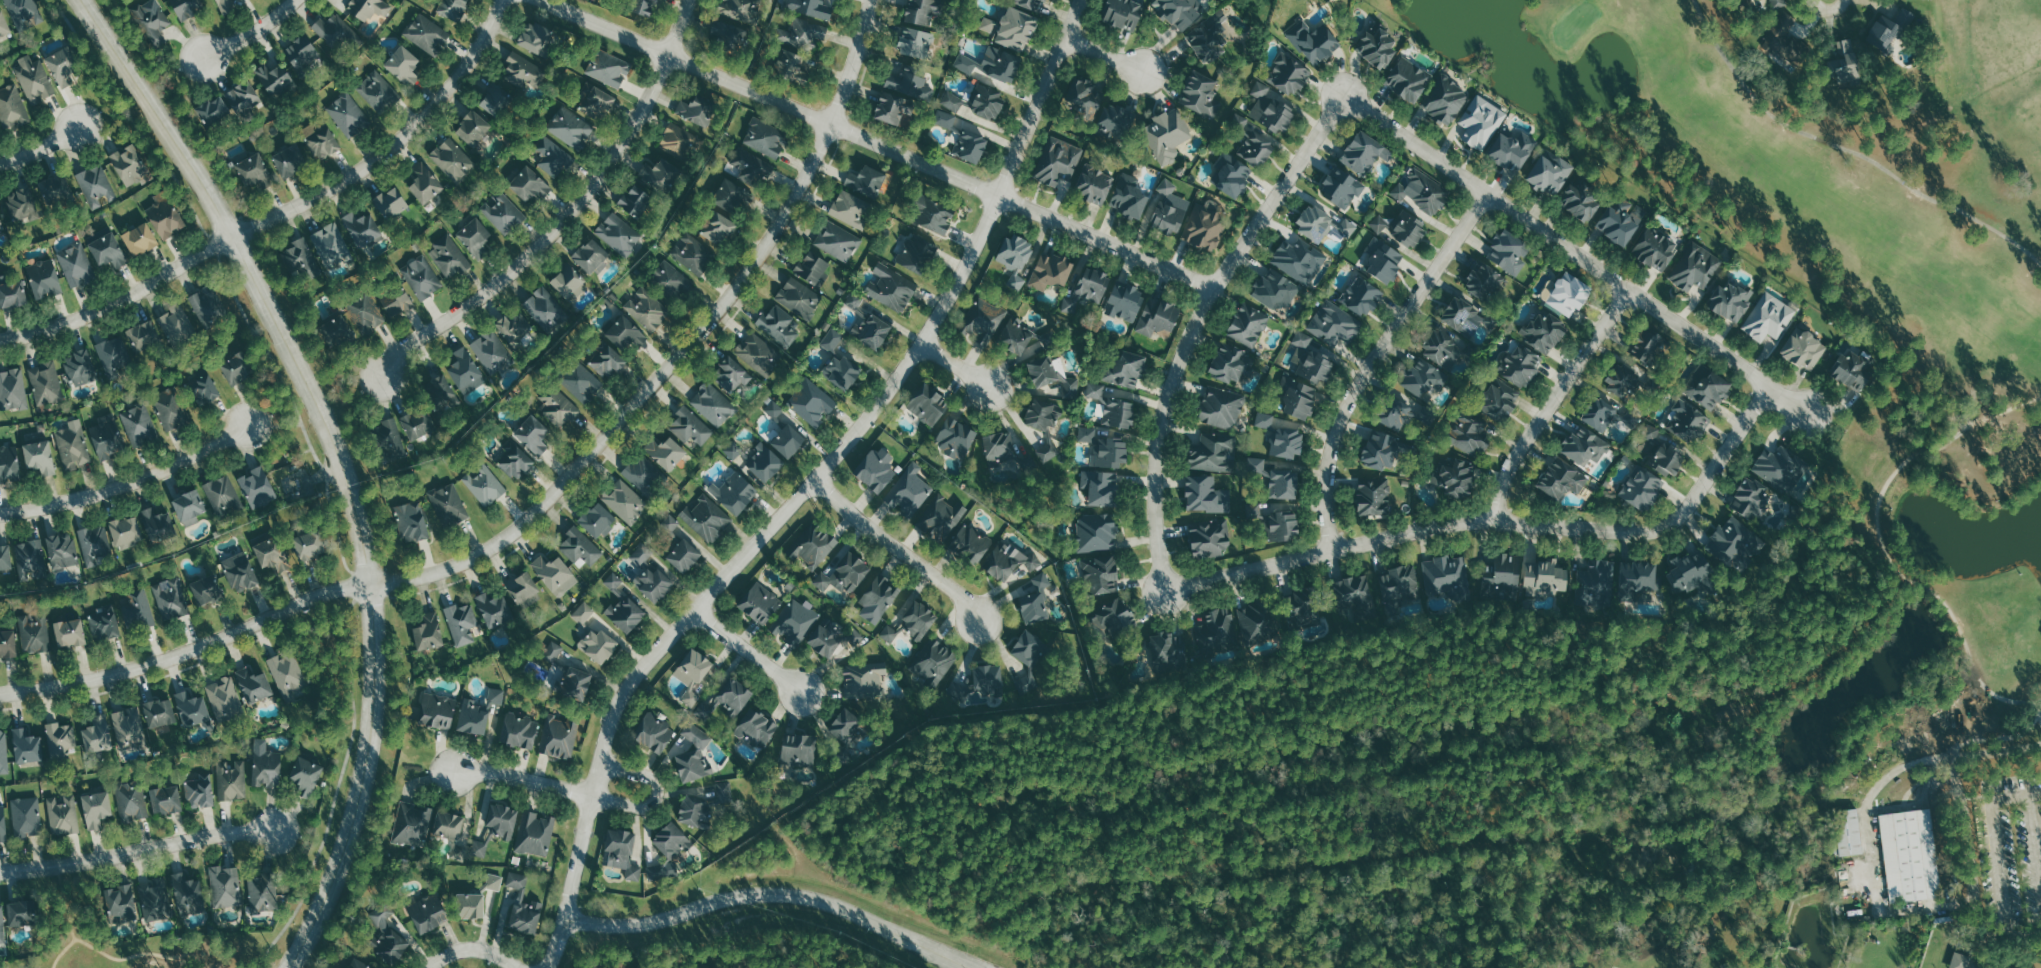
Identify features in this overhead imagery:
building: (1777, 3)
building: (1031, 4)
building: (225, 6)
building: (186, 7)
building: (369, 7)
building: (642, 7)
building: (451, 8)
building: (810, 8)
building: (738, 9)
building: (25, 10)
road: (1829, 10)
building: (921, 11)
building: (1179, 11)
building: (1123, 13)
building: (152, 20)
building: (988, 24)
building: (3, 25)
road: (680, 28)
building: (1016, 29)
building: (336, 31)
road: (254, 33)
building: (427, 34)
building: (728, 35)
building: (1884, 35)
building: (1208, 37)
building: (533, 39)
building: (1313, 41)
building: (1784, 41)
building: (915, 43)
building: (796, 48)
building: (1377, 48)
building: (301, 52)
road: (1108, 53)
building: (1844, 62)
building: (403, 64)
building: (965, 64)
building: (1003, 66)
building: (60, 67)
building: (608, 67)
building: (523, 72)
building: (1289, 74)
building: (34, 78)
building: (274, 79)
building: (1407, 80)
building: (910, 85)
building: (377, 91)
building: (242, 96)
building: (1201, 96)
building: (1088, 98)
building: (497, 99)
building: (1445, 99)
building: (597, 101)
building: (952, 101)
building: (987, 101)
building: (12, 107)
building: (890, 108)
building: (1270, 109)
building: (212, 110)
building: (695, 110)
building: (348, 114)
building: (945, 119)
building: (1117, 121)
building: (1239, 121)
building: (1481, 122)
building: (472, 128)
building: (571, 128)
building: (1167, 135)
building: (765, 138)
building: (320, 139)
building: (678, 140)
road: (879, 145)
road: (40, 146)
building: (970, 146)
building: (1256, 149)
building: (1510, 150)
building: (1364, 153)
building: (552, 156)
building: (452, 159)
building: (289, 160)
building: (1060, 161)
building: (128, 166)
building: (751, 167)
building: (253, 172)
building: (659, 173)
building: (1550, 174)
building: (1233, 178)
building: (866, 181)
building: (424, 183)
building: (529, 184)
building: (1093, 184)
building: (95, 185)
building: (1342, 188)
building: (56, 191)
building: (1422, 191)
building: (731, 197)
building: (1128, 197)
building: (634, 201)
building: (1580, 201)
building: (390, 203)
building: (22, 205)
building: (851, 209)
building: (1168, 209)
road: (284, 211)
building: (502, 212)
building: (931, 214)
building: (164, 216)
building: (1619, 221)
building: (1313, 223)
building: (1379, 224)
building: (1205, 225)
building: (718, 227)
building: (362, 229)
building: (1409, 229)
building: (618, 233)
road: (549, 236)
building: (475, 237)
building: (139, 239)
building: (837, 241)
building: (332, 244)
building: (1655, 249)
building: (107, 251)
building: (1509, 252)
building: (693, 253)
building: (917, 254)
building: (450, 256)
building: (591, 256)
building: (1015, 258)
building: (302, 260)
building: (1298, 260)
building: (76, 264)
building: (1695, 267)
building: (812, 269)
building: (1050, 271)
road: (1224, 276)
building: (422, 277)
road: (1617, 278)
building: (43, 279)
building: (671, 280)
building: (568, 282)
building: (1483, 282)
building: (891, 288)
building: (1276, 290)
building: (1086, 291)
building: (12, 294)
building: (1567, 295)
building: (1361, 297)
building: (799, 298)
building: (1730, 300)
building: (396, 302)
building: (1124, 302)
building: (208, 306)
building: (545, 307)
building: (647, 308)
building: (365, 312)
building: (1157, 317)
building: (1462, 318)
building: (1771, 319)
building: (985, 322)
building: (176, 324)
building: (1334, 324)
building: (778, 325)
building: (867, 325)
building: (1248, 325)
building: (515, 326)
building: (337, 331)
building: (625, 334)
building: (1015, 335)
building: (142, 336)
building: (1302, 339)
building: (1645, 347)
building: (1441, 349)
building: (1532, 349)
building: (1804, 349)
building: (492, 352)
building: (759, 354)
building: (113, 355)
road: (1375, 359)
building: (606, 360)
building: (839, 363)
building: (1229, 363)
road: (956, 365)
building: (1312, 366)
building: (236, 368)
building: (1125, 370)
building: (80, 371)
building: (465, 371)
building: (1854, 371)
building: (731, 374)
building: (1053, 377)
building: (1422, 378)
building: (1622, 381)
building: (45, 382)
building: (581, 382)
building: (1284, 384)
building: (1707, 387)
building: (202, 388)
building: (12, 390)
building: (441, 393)
road: (1553, 397)
building: (1498, 400)
building: (812, 402)
building: (1299, 402)
building: (713, 404)
building: (928, 404)
building: (558, 407)
building: (1221, 407)
building: (1112, 408)
building: (170, 409)
building: (774, 409)
building: (1042, 414)
building: (1400, 415)
building: (1600, 415)
building: (1265, 420)
building: (416, 423)
building: (1688, 423)
building: (139, 425)
building: (690, 427)
building: (1650, 432)
building: (1469, 433)
building: (1087, 434)
building: (532, 435)
building: (955, 438)
building: (107, 439)
building: (787, 441)
building: (1288, 443)
building: (391, 444)
building: (73, 445)
building: (998, 446)
building: (1048, 448)
building: (731, 450)
building: (1379, 450)
building: (664, 451)
building: (1110, 453)
building: (1213, 453)
building: (39, 457)
building: (1665, 459)
road: (339, 461)
building: (515, 461)
building: (764, 463)
building: (9, 464)
building: (1258, 466)
building: (1779, 467)
building: (876, 469)
building: (1007, 470)
building: (641, 472)
building: (1453, 479)
building: (1562, 479)
road: (127, 480)
building: (484, 485)
building: (1283, 485)
road: (807, 486)
building: (257, 488)
building: (1100, 488)
building: (1642, 489)
building: (909, 492)
building: (733, 493)
building: (222, 494)
road: (552, 494)
building: (1205, 495)
building: (1373, 498)
building: (1749, 498)
building: (625, 501)
building: (449, 504)
building: (188, 507)
building: (1254, 511)
building: (707, 518)
road: (1512, 518)
building: (596, 520)
building: (411, 522)
building: (157, 524)
building: (670, 524)
building: (1282, 526)
building: (937, 529)
building: (125, 532)
building: (1096, 532)
building: (1208, 538)
building: (1729, 541)
building: (94, 544)
building: (308, 546)
building: (580, 547)
building: (814, 548)
road: (896, 549)
building: (61, 550)
building: (271, 555)
building: (641, 555)
building: (683, 556)
building: (4, 558)
building: (30, 559)
building: (1009, 561)
building: (1690, 571)
building: (240, 572)
building: (1100, 573)
building: (552, 574)
building: (1502, 574)
building: (844, 575)
building: (1448, 575)
building: (1638, 576)
building: (1545, 579)
building: (1598, 581)
building: (653, 584)
building: (1400, 586)
building: (206, 590)
building: (524, 590)
building: (1352, 592)
building: (171, 599)
building: (878, 599)
building: (1035, 601)
building: (760, 603)
building: (622, 607)
building: (137, 609)
building: (493, 609)
building: (583, 613)
building: (1302, 613)
building: (1110, 619)
building: (919, 621)
building: (795, 622)
building: (1260, 622)
building: (462, 623)
building: (103, 624)
building: (1218, 630)
building: (427, 632)
building: (34, 633)
building: (69, 633)
building: (889, 634)
building: (833, 638)
building: (7, 644)
road: (620, 645)
building: (598, 646)
building: (1172, 648)
road: (746, 651)
building: (552, 652)
building: (1032, 661)
building: (932, 662)
building: (288, 674)
building: (692, 675)
building: (988, 678)
building: (863, 680)
building: (574, 684)
building: (253, 685)
building: (496, 695)
building: (733, 697)
building: (225, 699)
building: (191, 709)
building: (435, 711)
building: (159, 713)
building: (473, 717)
building: (846, 726)
building: (129, 728)
building: (756, 728)
building: (518, 731)
building: (653, 733)
building: (97, 735)
building: (696, 735)
building: (559, 737)
building: (60, 739)
building: (25, 746)
building: (798, 750)
building: (3, 753)
building: (691, 765)
building: (265, 766)
building: (305, 777)
building: (231, 781)
road: (337, 784)
building: (200, 792)
road: (2016, 792)
building: (725, 793)
road: (592, 796)
building: (165, 800)
building: (132, 802)
building: (95, 809)
building: (693, 811)
building: (63, 815)
building: (25, 817)
building: (2, 824)
building: (412, 825)
building: (448, 826)
building: (497, 828)
road: (1960, 829)
building: (1849, 832)
building: (535, 834)
building: (671, 841)
road: (2034, 847)
road: (137, 850)
building: (621, 853)
road: (1869, 853)
building: (1910, 854)
road: (1999, 865)
building: (494, 882)
building: (225, 887)
building: (262, 892)
road: (772, 894)
building: (188, 895)
building: (154, 900)
building: (120, 904)
building: (469, 906)
building: (523, 906)
building: (426, 913)
building: (19, 914)
building: (1, 925)
building: (386, 937)
road: (475, 949)
road: (145, 955)
road: (199, 962)

